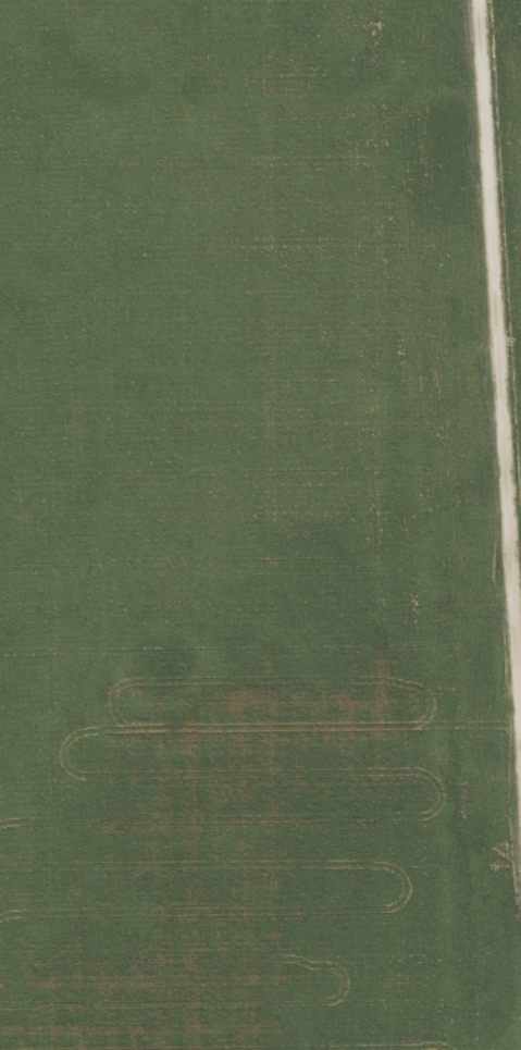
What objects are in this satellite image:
road: (508, 211)

